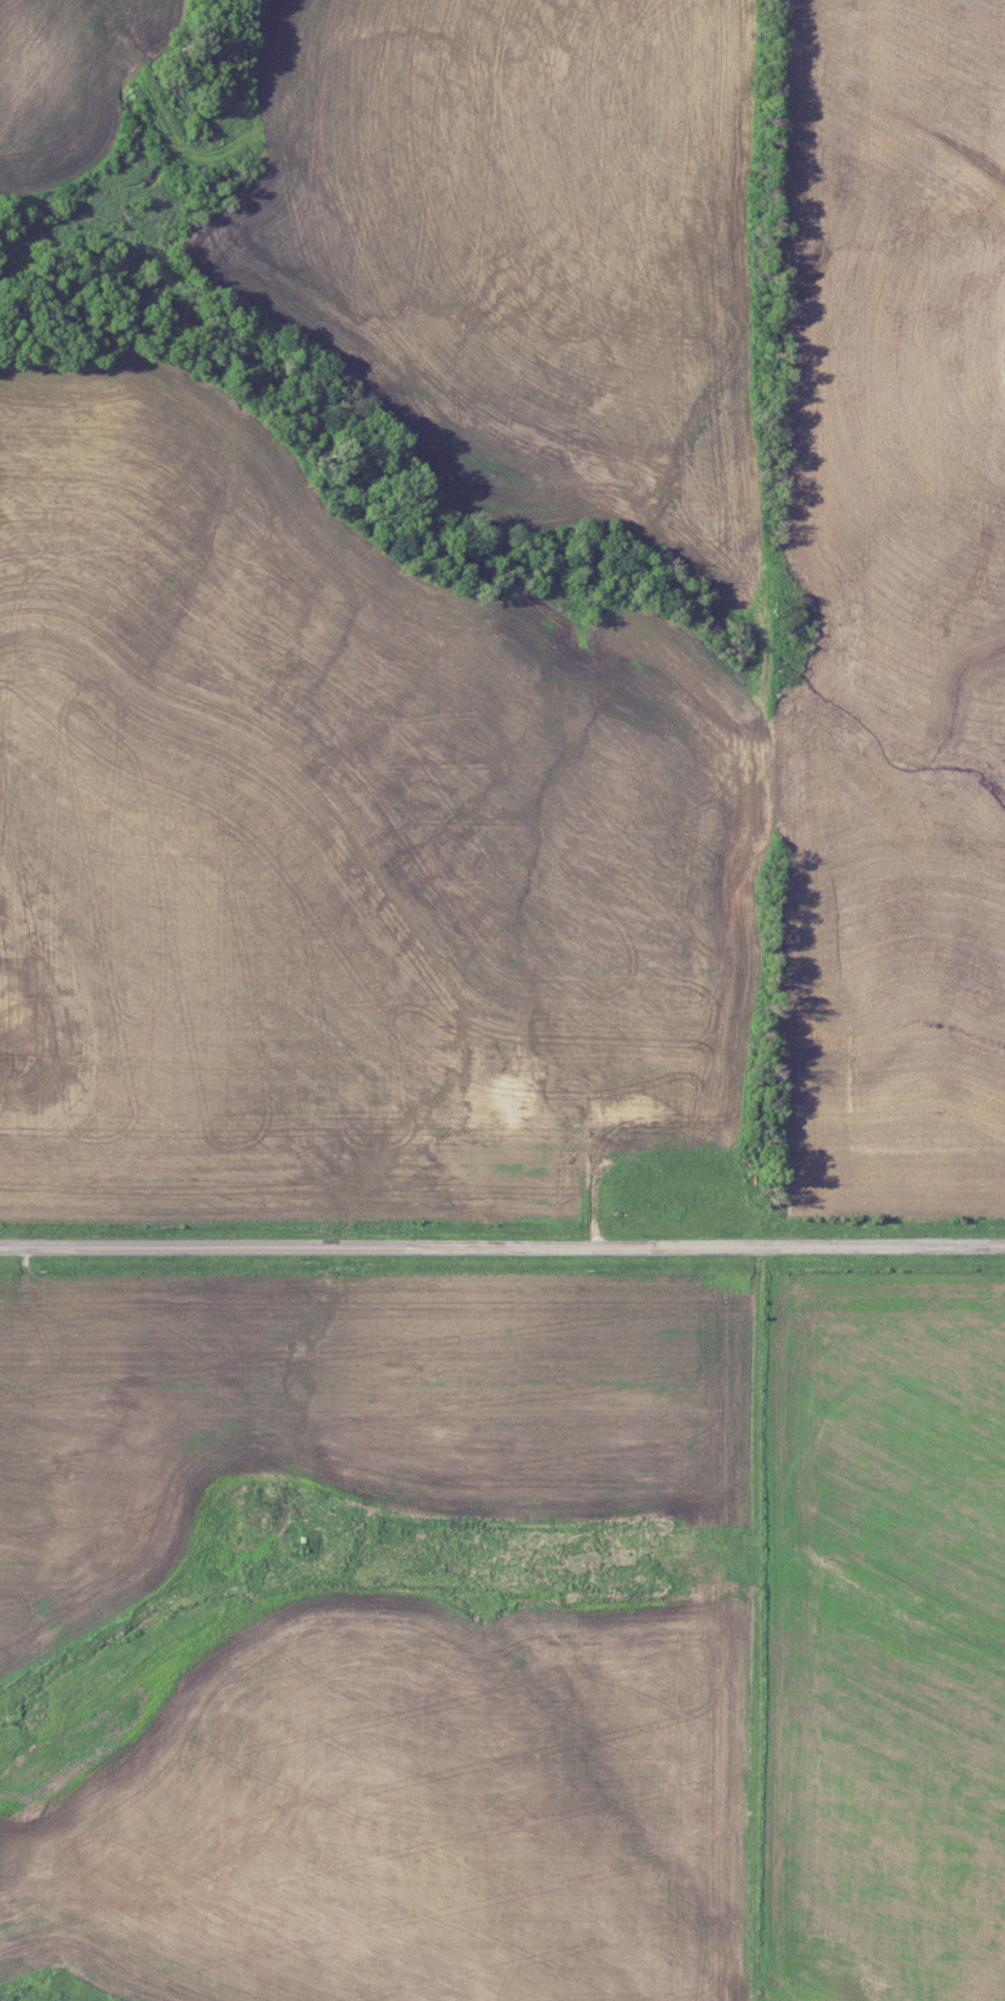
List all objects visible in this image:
road: (502, 1249)

